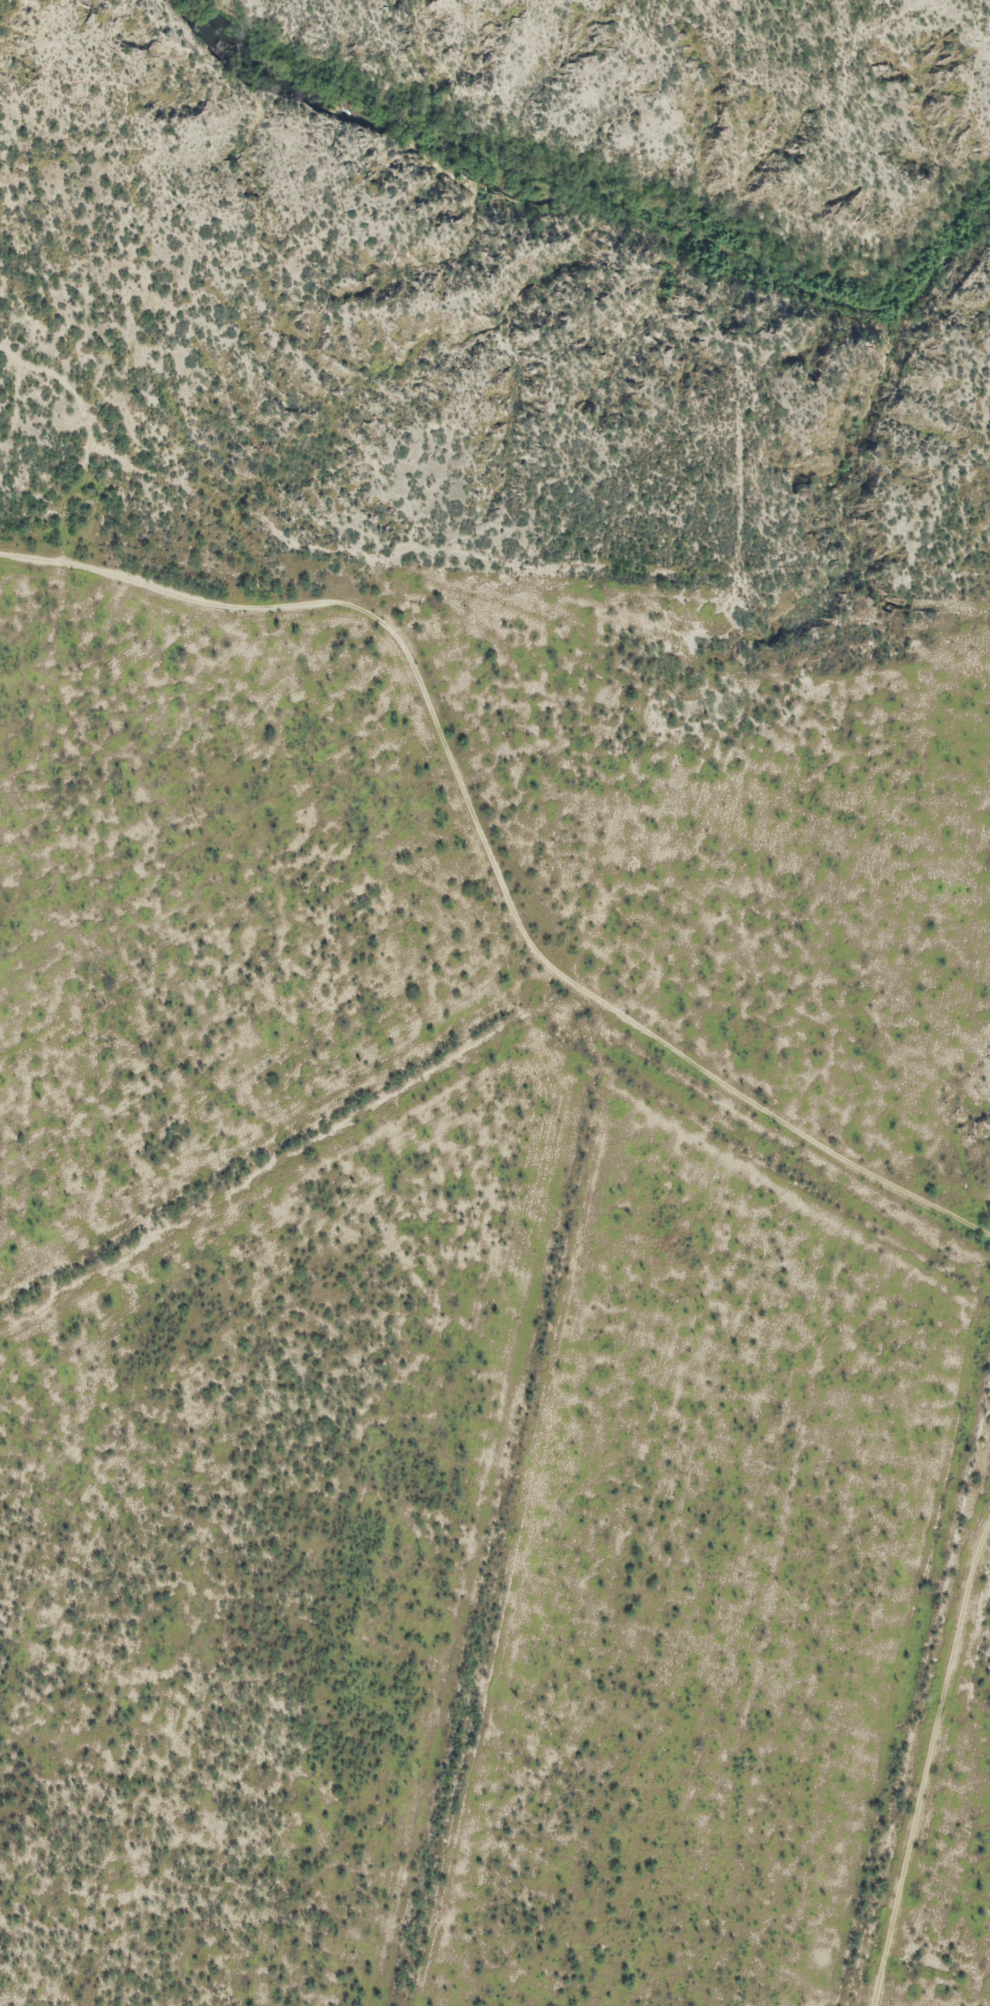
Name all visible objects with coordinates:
road: (488, 852)
road: (926, 1763)

